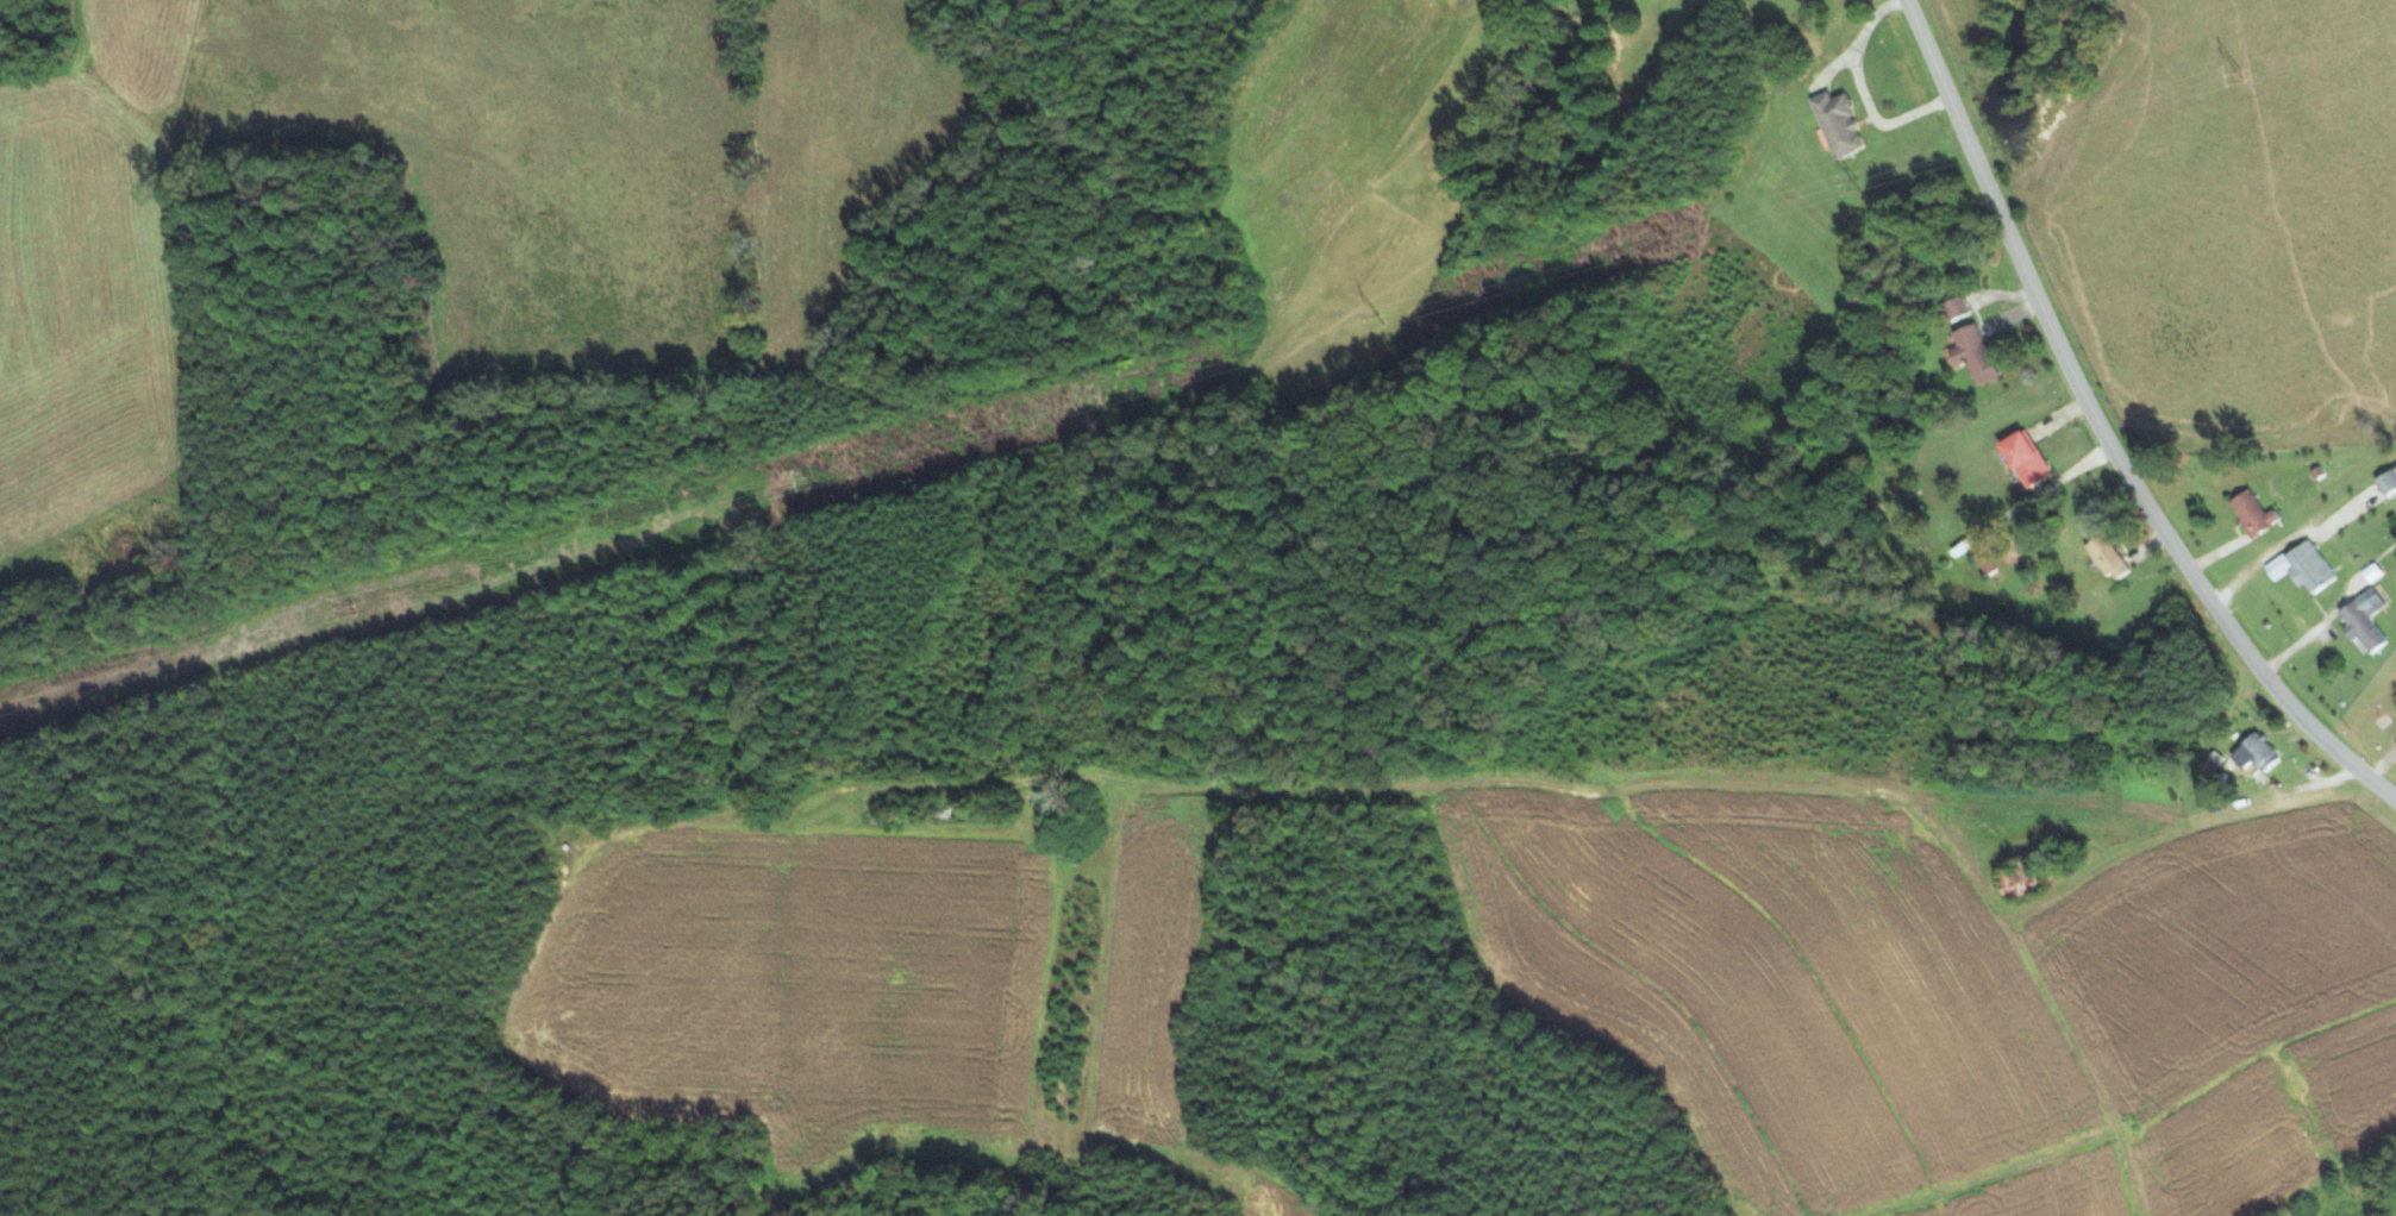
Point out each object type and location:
power tower: (2238, 74)
building: (1837, 125)
power tower: (1854, 181)
building: (1954, 308)
power tower: (1378, 319)
building: (1972, 355)
road: (2100, 431)
building: (2025, 457)
power tower: (814, 481)
building: (2388, 481)
building: (2252, 513)
building: (2395, 534)
building: (2107, 557)
building: (2302, 566)
power tower: (356, 610)
building: (2364, 620)
building: (2258, 751)

